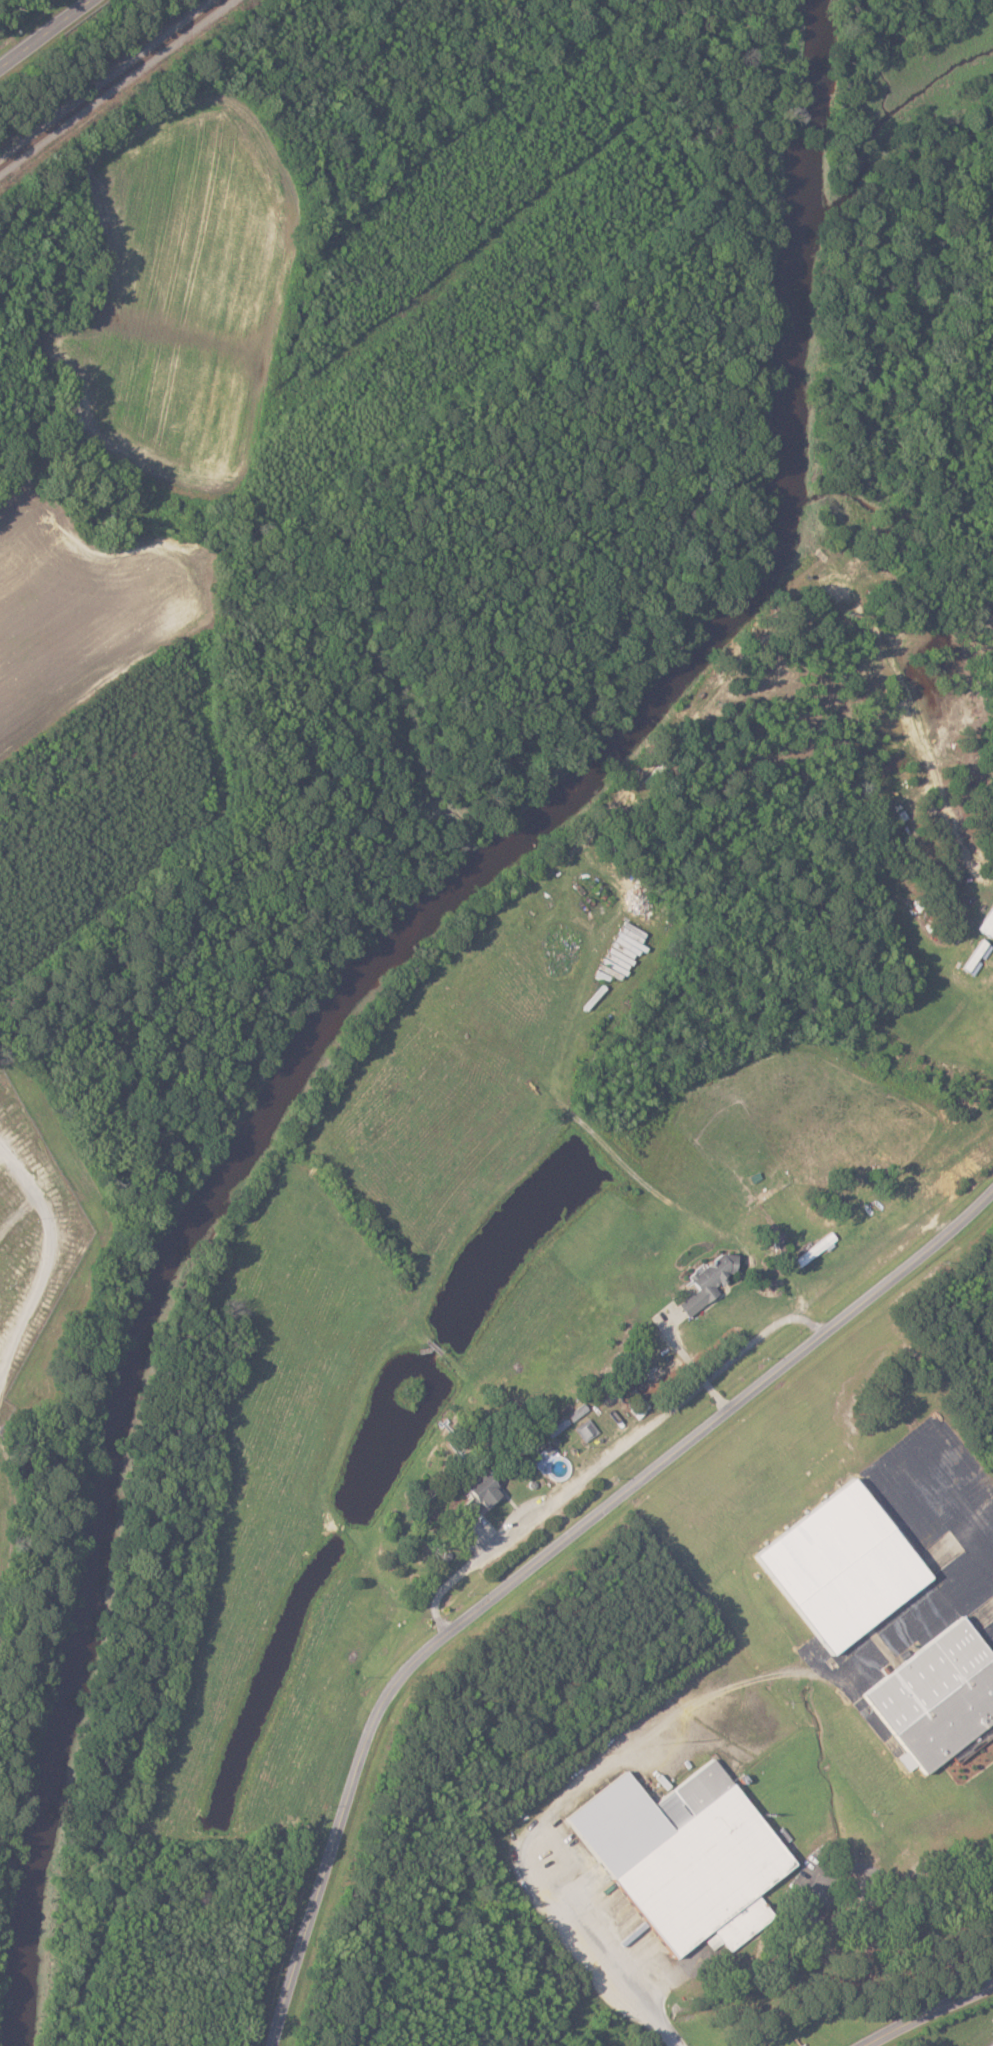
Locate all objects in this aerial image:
road: (40, 30)
railway: (110, 83)
road: (919, 578)
building: (988, 926)
river: (381, 980)
road: (45, 1252)
building: (713, 1281)
building: (588, 1429)
building: (487, 1489)
road: (545, 1558)
building: (848, 1566)
building: (939, 1696)
road: (632, 1734)
building: (691, 1855)
road: (928, 2016)

